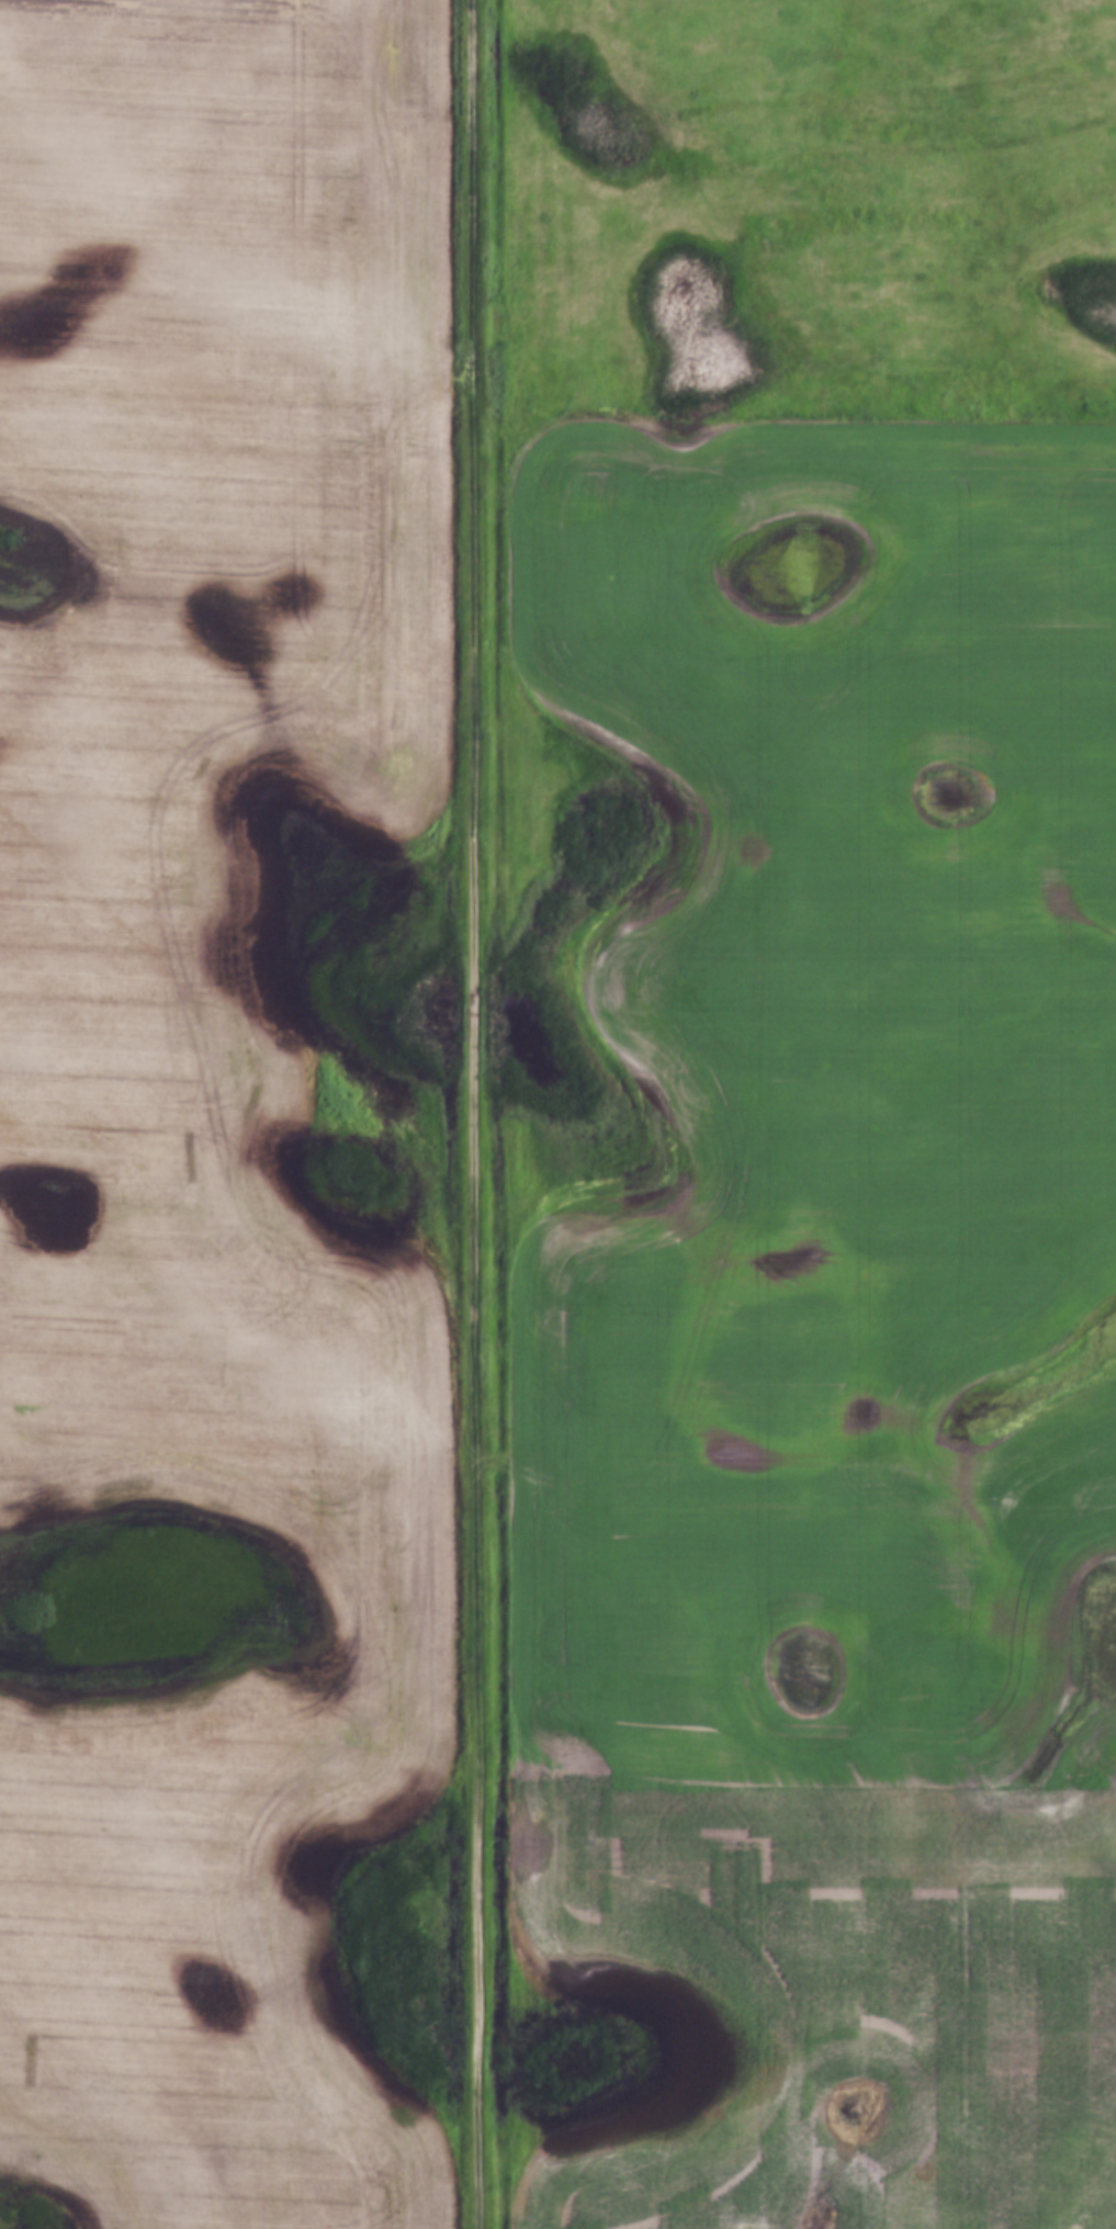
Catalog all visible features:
road: (471, 1114)

